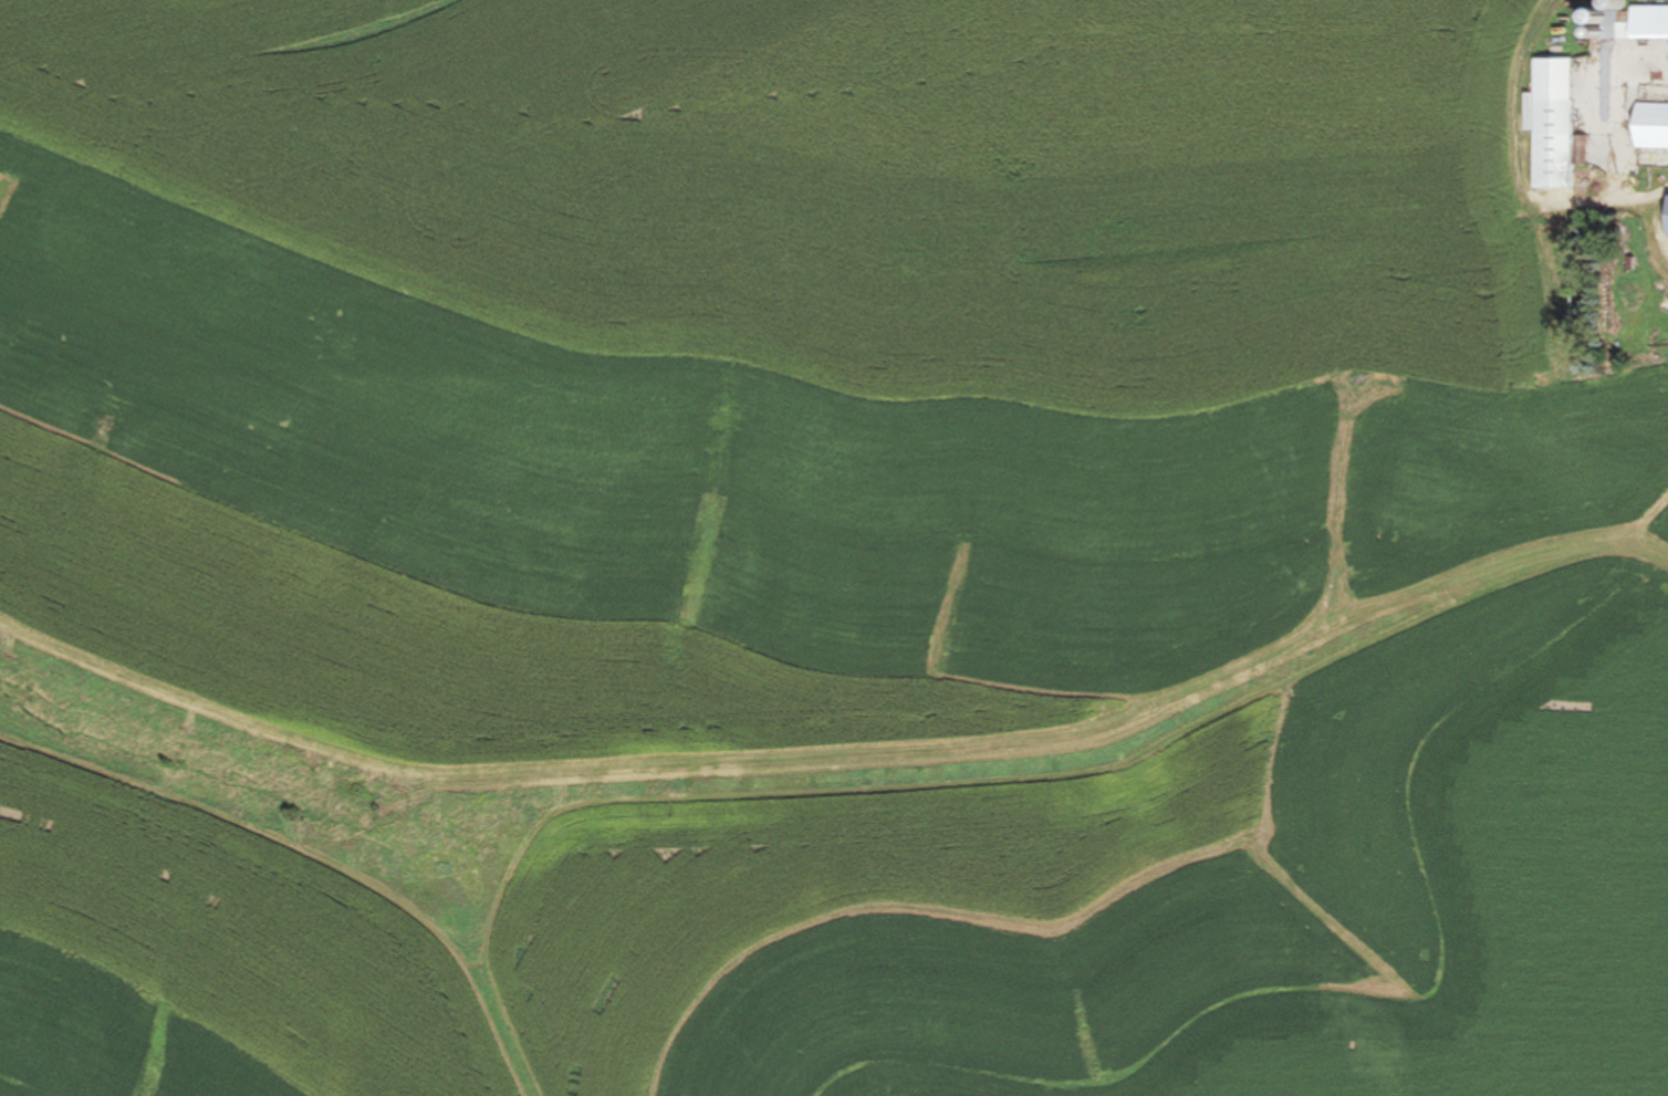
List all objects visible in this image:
building: (1647, 21)
building: (1550, 124)
building: (1650, 126)
building: (1667, 215)

